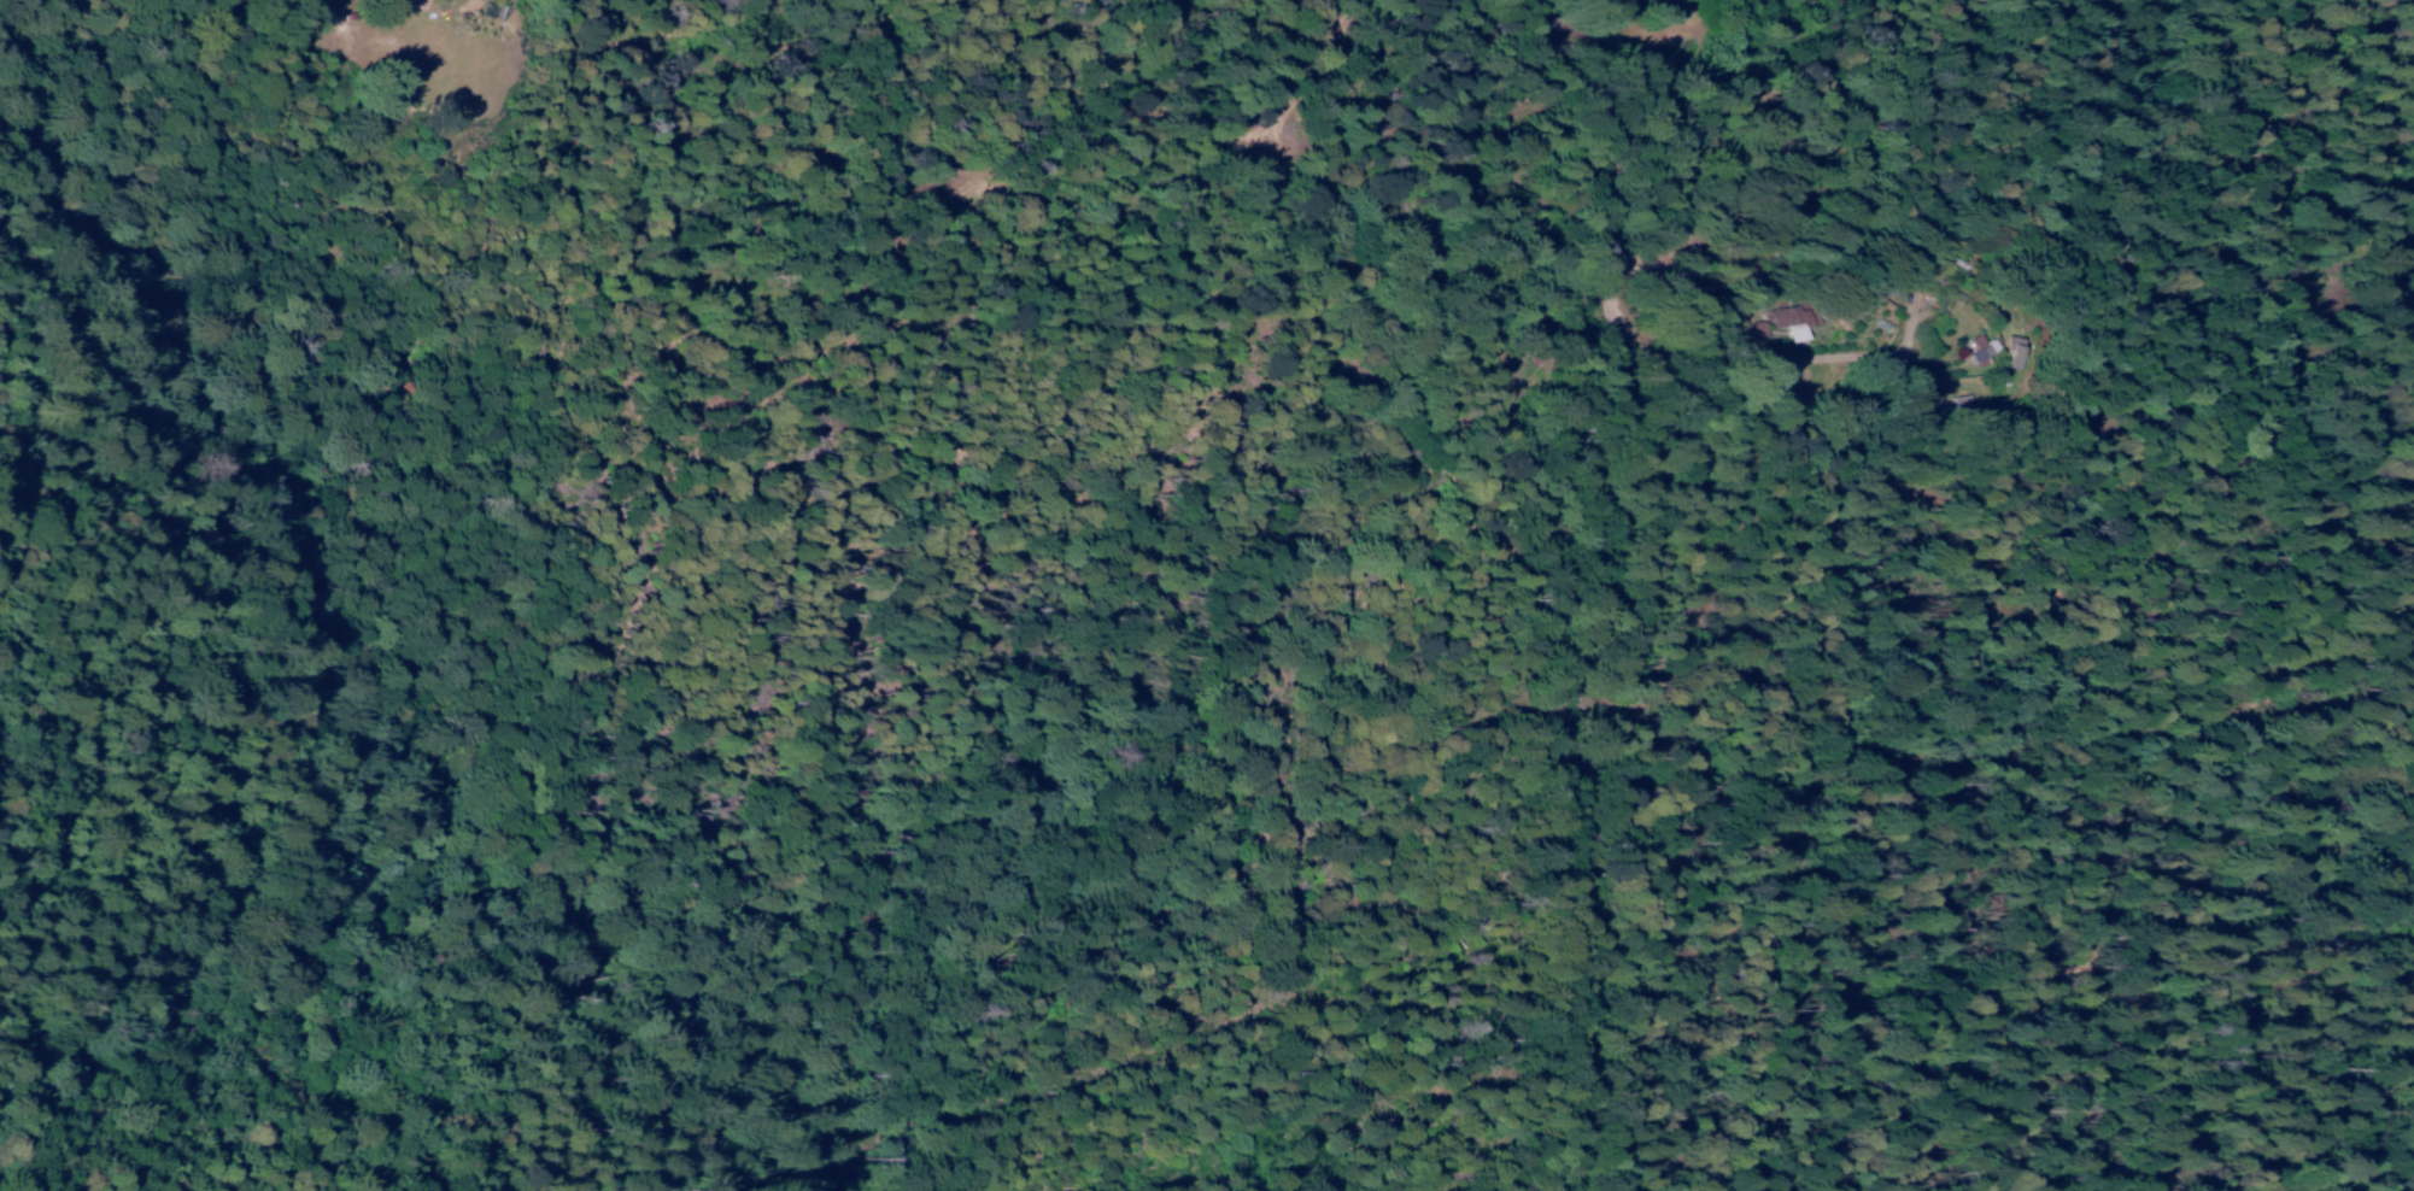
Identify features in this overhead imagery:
building: (1794, 322)
building: (1764, 329)
building: (1982, 350)
building: (2020, 352)
building: (1938, 399)
road: (1592, 551)

